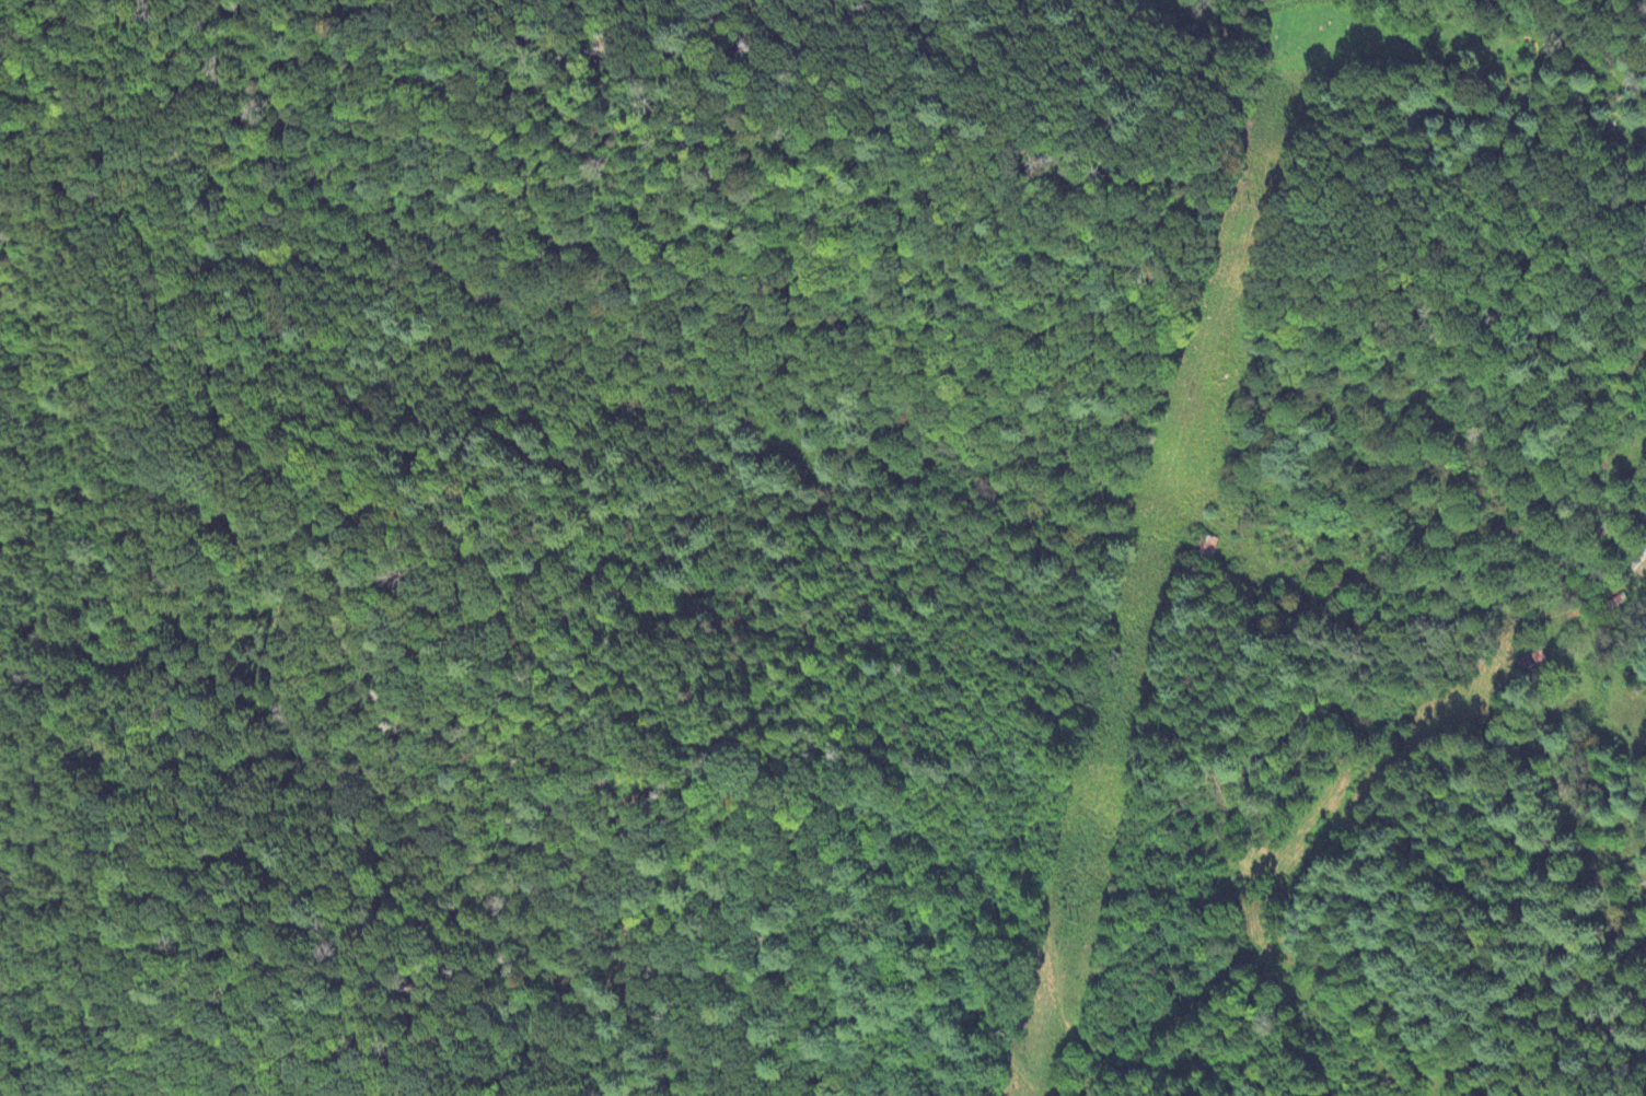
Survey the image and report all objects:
building: (1529, 655)

